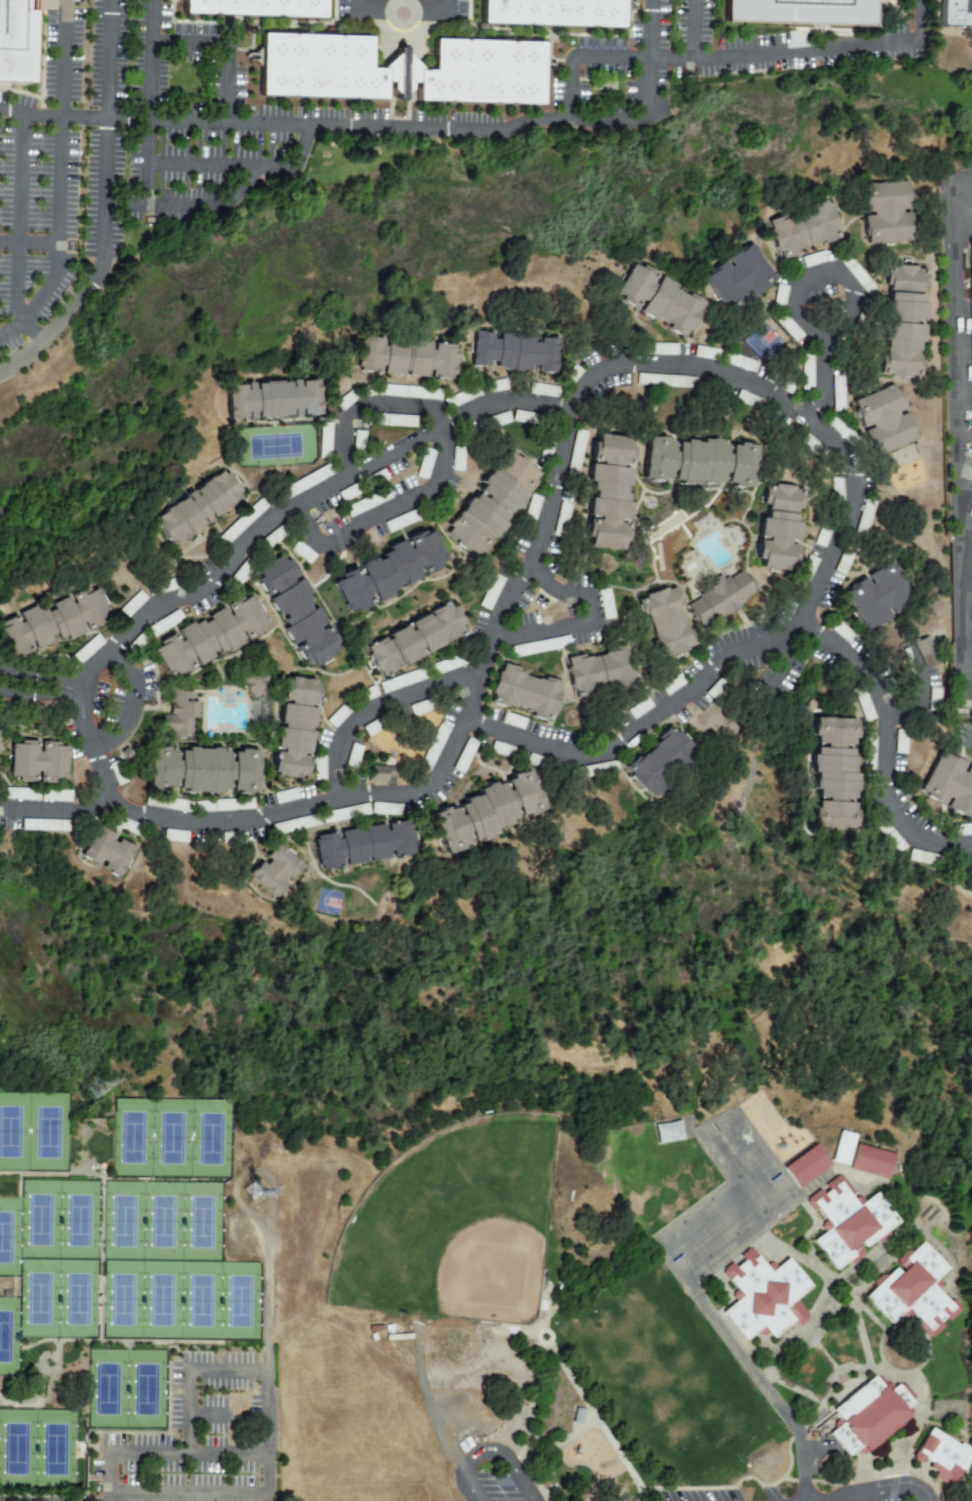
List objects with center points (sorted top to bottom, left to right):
road: (446, 6)
building: (255, 8)
road: (362, 12)
building: (555, 13)
building: (808, 13)
building: (954, 13)
road: (433, 14)
road: (146, 19)
road: (690, 29)
road: (401, 31)
road: (185, 40)
building: (19, 41)
road: (822, 48)
road: (105, 58)
road: (596, 59)
building: (399, 71)
road: (61, 88)
road: (78, 116)
road: (538, 121)
road: (142, 140)
road: (111, 163)
road: (242, 166)
road: (206, 202)
road: (107, 213)
building: (891, 213)
road: (15, 219)
building: (806, 231)
road: (27, 241)
building: (813, 259)
road: (826, 272)
building: (855, 274)
building: (743, 280)
building: (779, 296)
building: (662, 298)
building: (970, 298)
road: (21, 322)
building: (907, 322)
building: (787, 327)
road: (48, 336)
building: (661, 349)
building: (517, 352)
building: (704, 353)
building: (408, 358)
building: (738, 362)
building: (806, 372)
road: (824, 383)
building: (494, 386)
building: (541, 390)
building: (836, 391)
building: (410, 392)
building: (462, 397)
building: (273, 400)
building: (345, 400)
road: (365, 406)
building: (501, 419)
building: (888, 420)
building: (324, 438)
park: (274, 446)
building: (546, 450)
building: (576, 450)
road: (963, 452)
building: (701, 462)
building: (424, 464)
building: (305, 482)
building: (836, 489)
building: (612, 494)
building: (496, 502)
building: (364, 504)
building: (531, 507)
building: (201, 508)
road: (381, 511)
building: (399, 521)
building: (241, 522)
building: (781, 529)
road: (544, 533)
building: (302, 552)
building: (808, 566)
road: (822, 566)
building: (392, 571)
building: (490, 592)
building: (881, 595)
building: (726, 601)
building: (133, 604)
road: (967, 604)
building: (306, 612)
road: (585, 620)
building: (670, 622)
building: (164, 623)
building: (54, 624)
building: (842, 633)
building: (416, 637)
building: (216, 639)
building: (540, 646)
building: (86, 650)
building: (925, 652)
building: (445, 665)
building: (602, 671)
parking lot: (790, 675)
road: (41, 678)
building: (400, 681)
building: (259, 683)
road: (923, 690)
building: (528, 691)
building: (368, 694)
road: (40, 696)
road: (377, 704)
building: (863, 705)
road: (122, 707)
building: (418, 708)
building: (638, 708)
building: (262, 713)
building: (181, 714)
building: (336, 717)
building: (297, 730)
building: (0, 740)
road: (890, 741)
building: (433, 747)
building: (1, 750)
building: (867, 752)
building: (464, 755)
building: (44, 763)
building: (663, 763)
building: (318, 768)
building: (205, 771)
building: (836, 773)
building: (377, 775)
building: (956, 785)
building: (20, 794)
building: (55, 796)
building: (285, 796)
building: (166, 804)
building: (213, 806)
road: (57, 809)
building: (385, 809)
building: (489, 812)
building: (343, 813)
building: (296, 824)
building: (44, 825)
building: (961, 829)
building: (174, 836)
building: (890, 838)
building: (367, 846)
building: (108, 853)
building: (276, 875)
power tower: (98, 1089)
park: (13, 1131)
park: (47, 1131)
building: (667, 1132)
park: (131, 1135)
park: (170, 1135)
park: (209, 1136)
building: (842, 1148)
building: (875, 1158)
building: (808, 1163)
power tower: (255, 1192)
park: (512, 1208)
park: (39, 1217)
park: (79, 1217)
park: (122, 1218)
park: (162, 1218)
park: (201, 1219)
building: (853, 1219)
park: (455, 1225)
park: (7, 1234)
building: (916, 1284)
building: (764, 1292)
road: (696, 1294)
park: (38, 1298)
park: (77, 1298)
park: (120, 1299)
park: (161, 1299)
park: (200, 1299)
park: (240, 1300)
park: (8, 1335)
park: (107, 1387)
park: (147, 1387)
road: (267, 1412)
building: (872, 1412)
road: (207, 1415)
park: (16, 1445)
park: (55, 1446)
road: (490, 1451)
road: (166, 1453)
building: (945, 1457)
road: (893, 1491)
road: (795, 1493)
road: (803, 1493)
road: (149, 1497)
road: (153, 1497)

